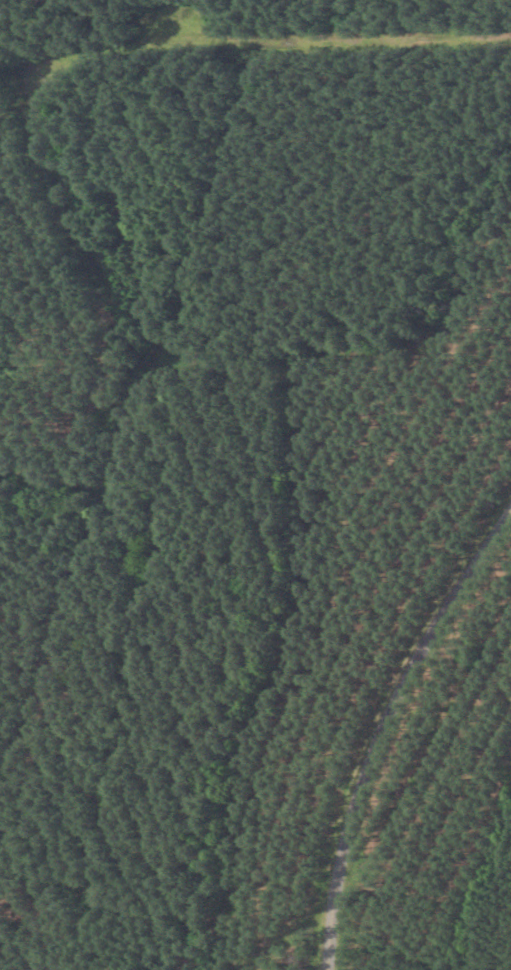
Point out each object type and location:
road: (383, 725)

